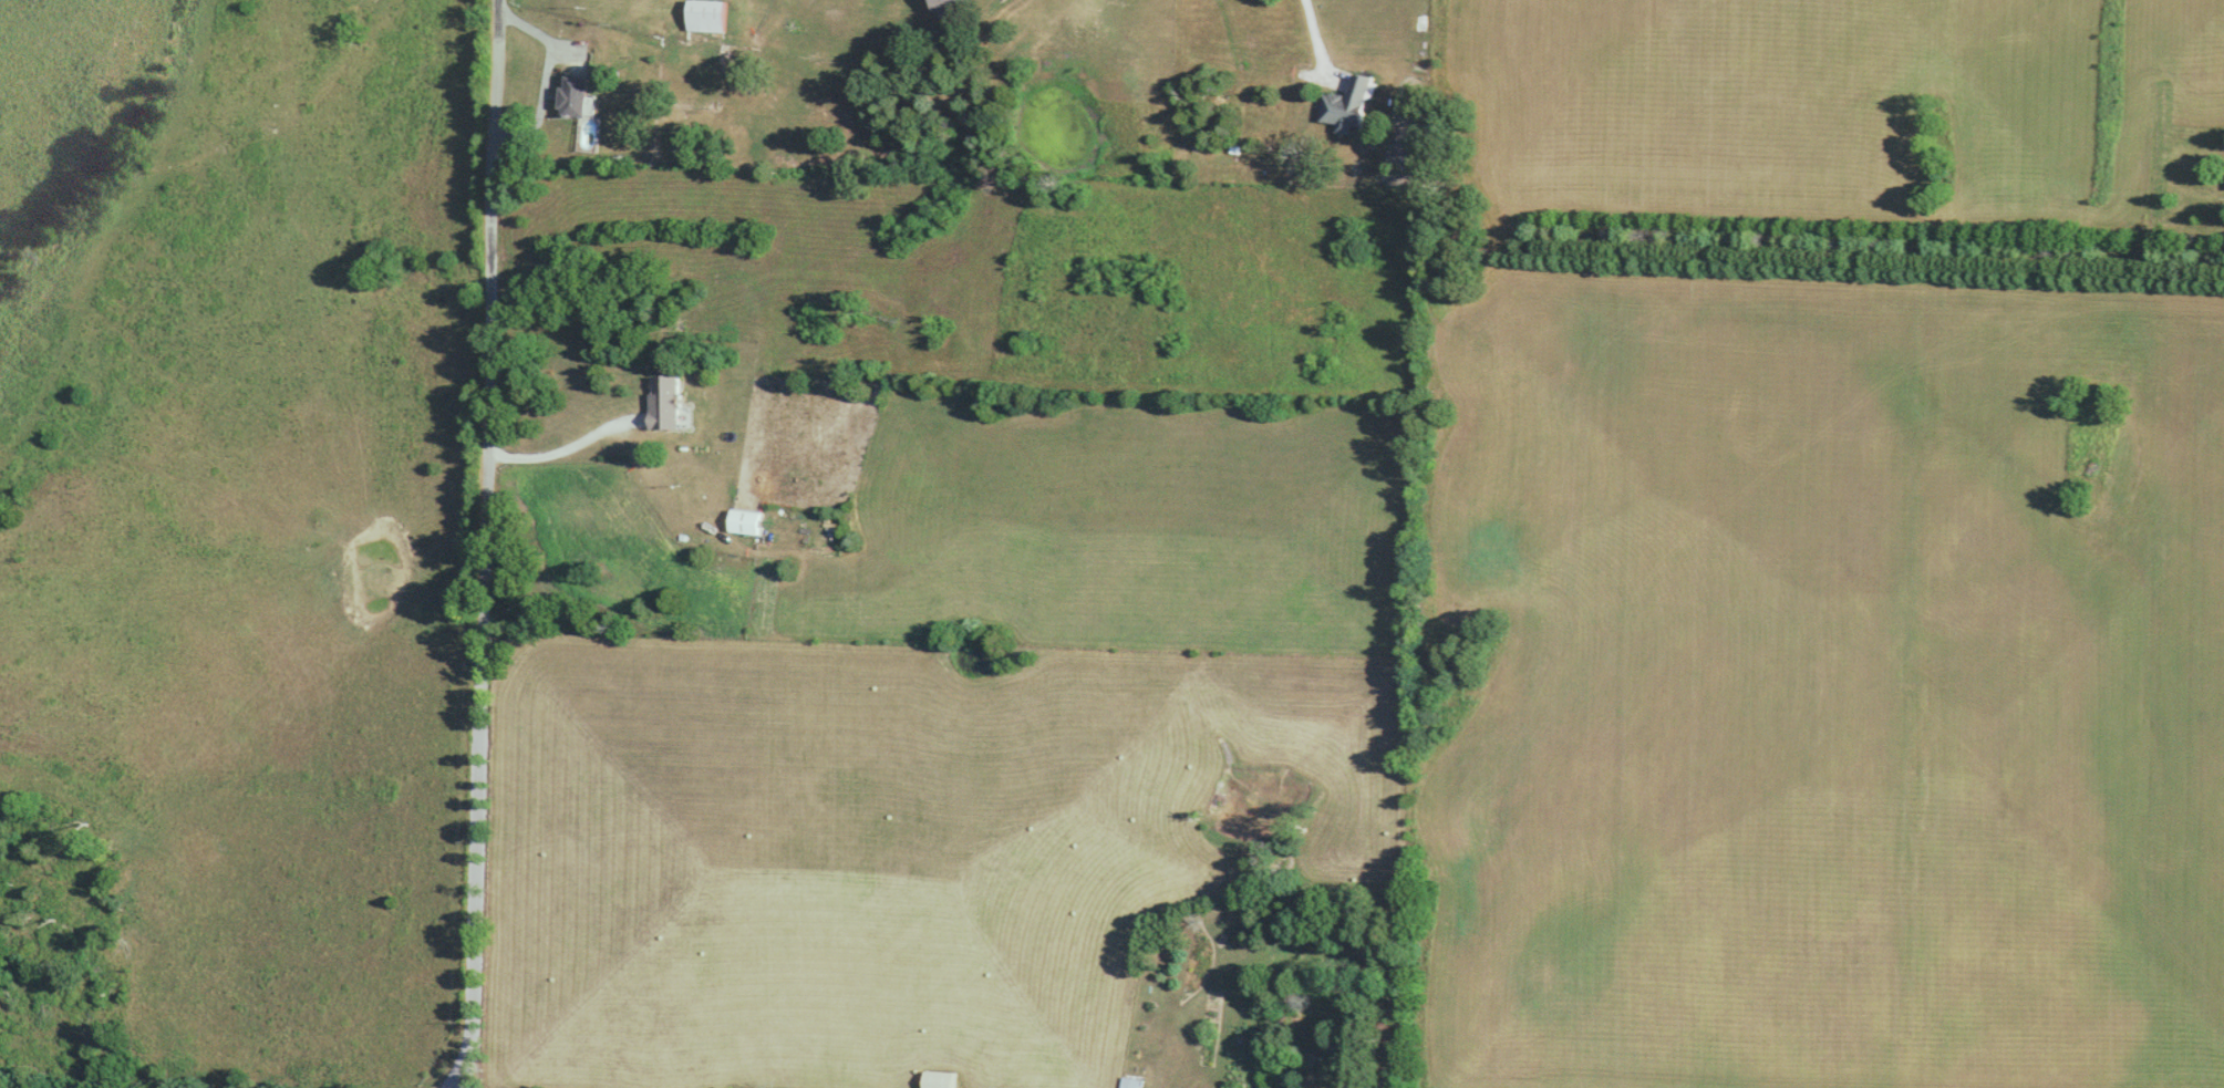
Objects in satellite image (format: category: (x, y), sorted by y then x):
building: (953, 4)
building: (710, 15)
road: (1314, 33)
road: (549, 42)
building: (576, 95)
building: (1348, 104)
building: (669, 402)
road: (573, 449)
building: (751, 521)
road: (486, 543)
building: (944, 1079)
building: (1132, 1082)

